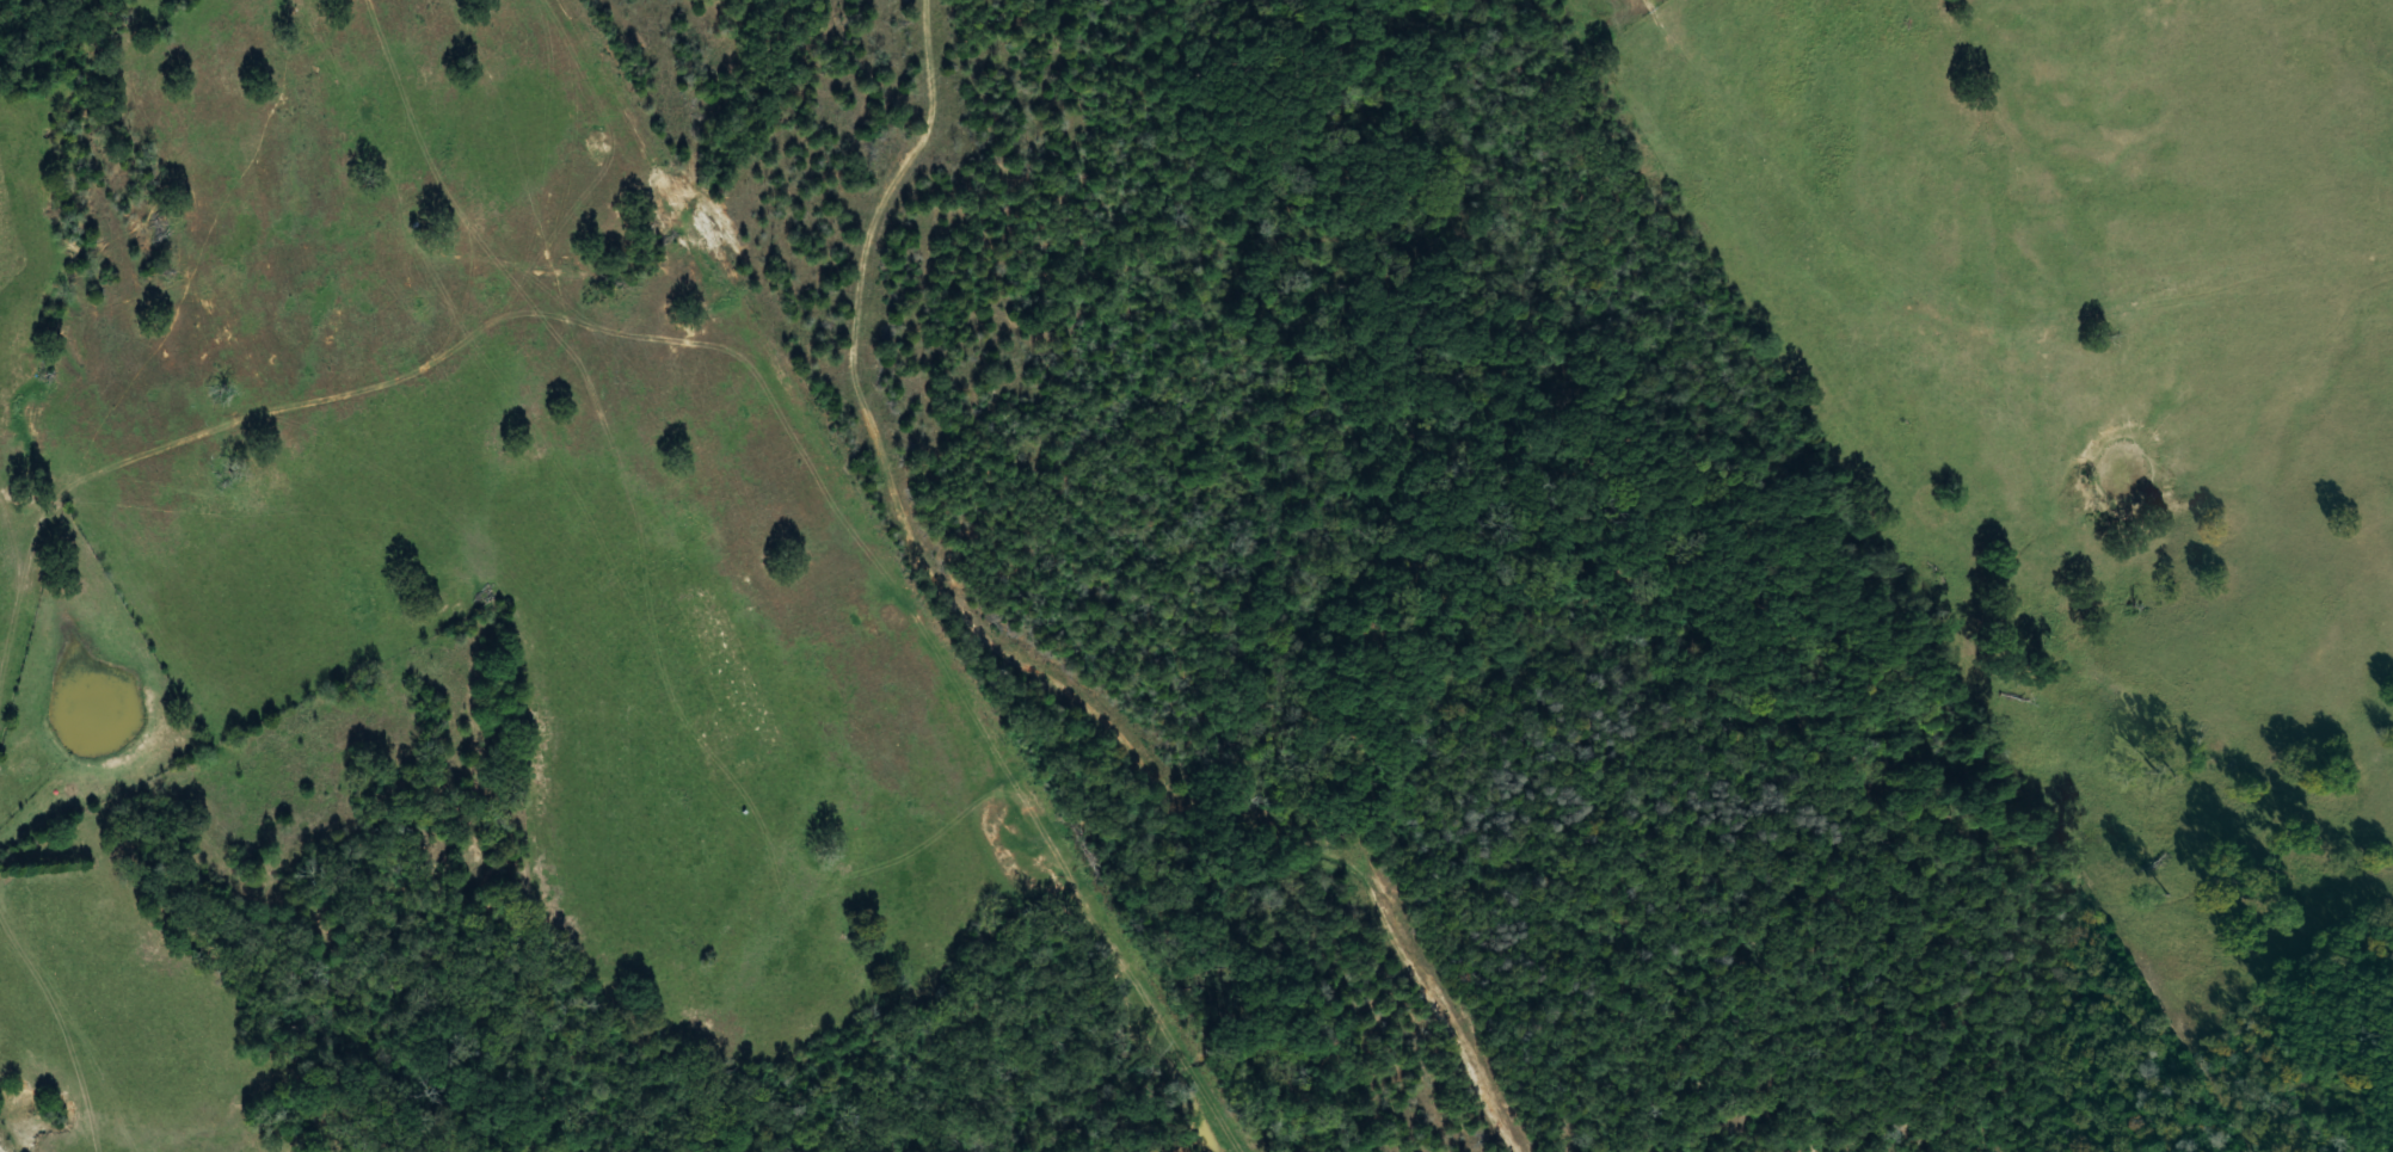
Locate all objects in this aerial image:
road: (331, 349)
road: (66, 1027)

